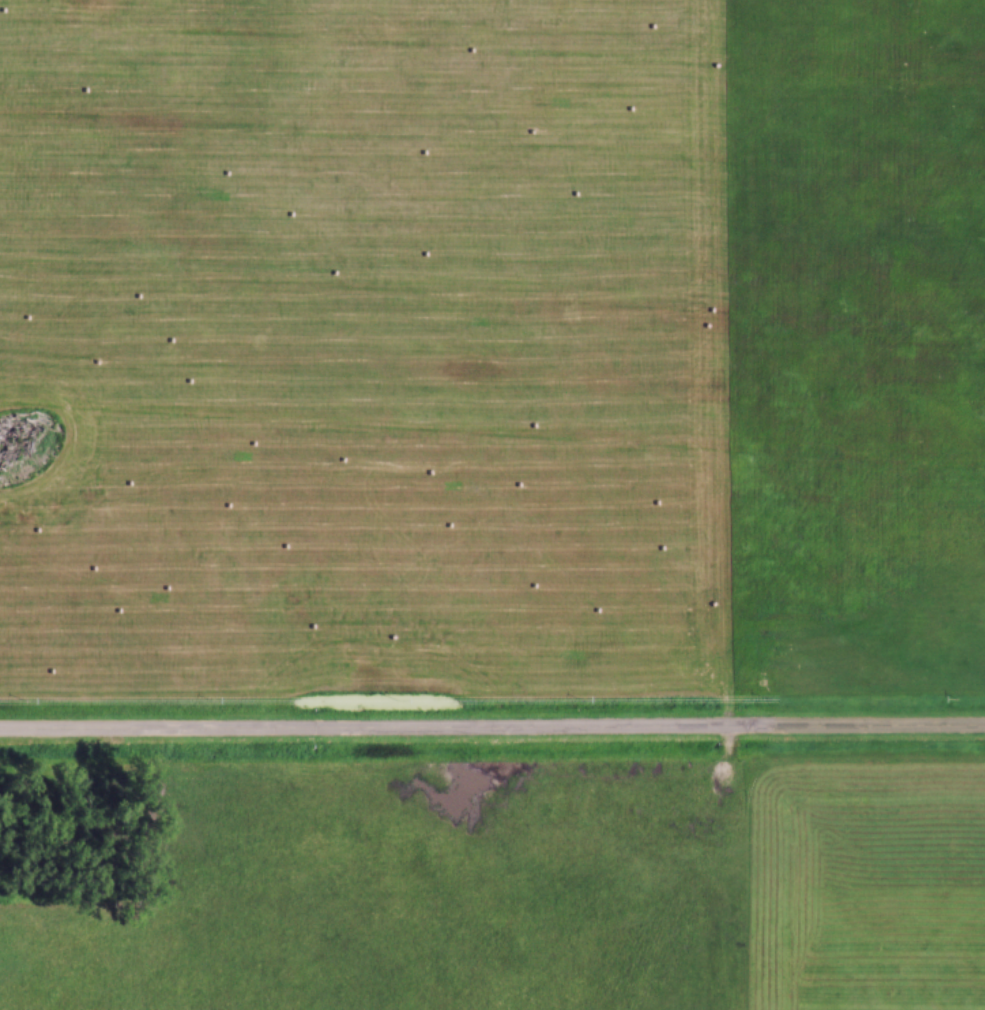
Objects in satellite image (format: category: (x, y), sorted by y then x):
road: (492, 727)

